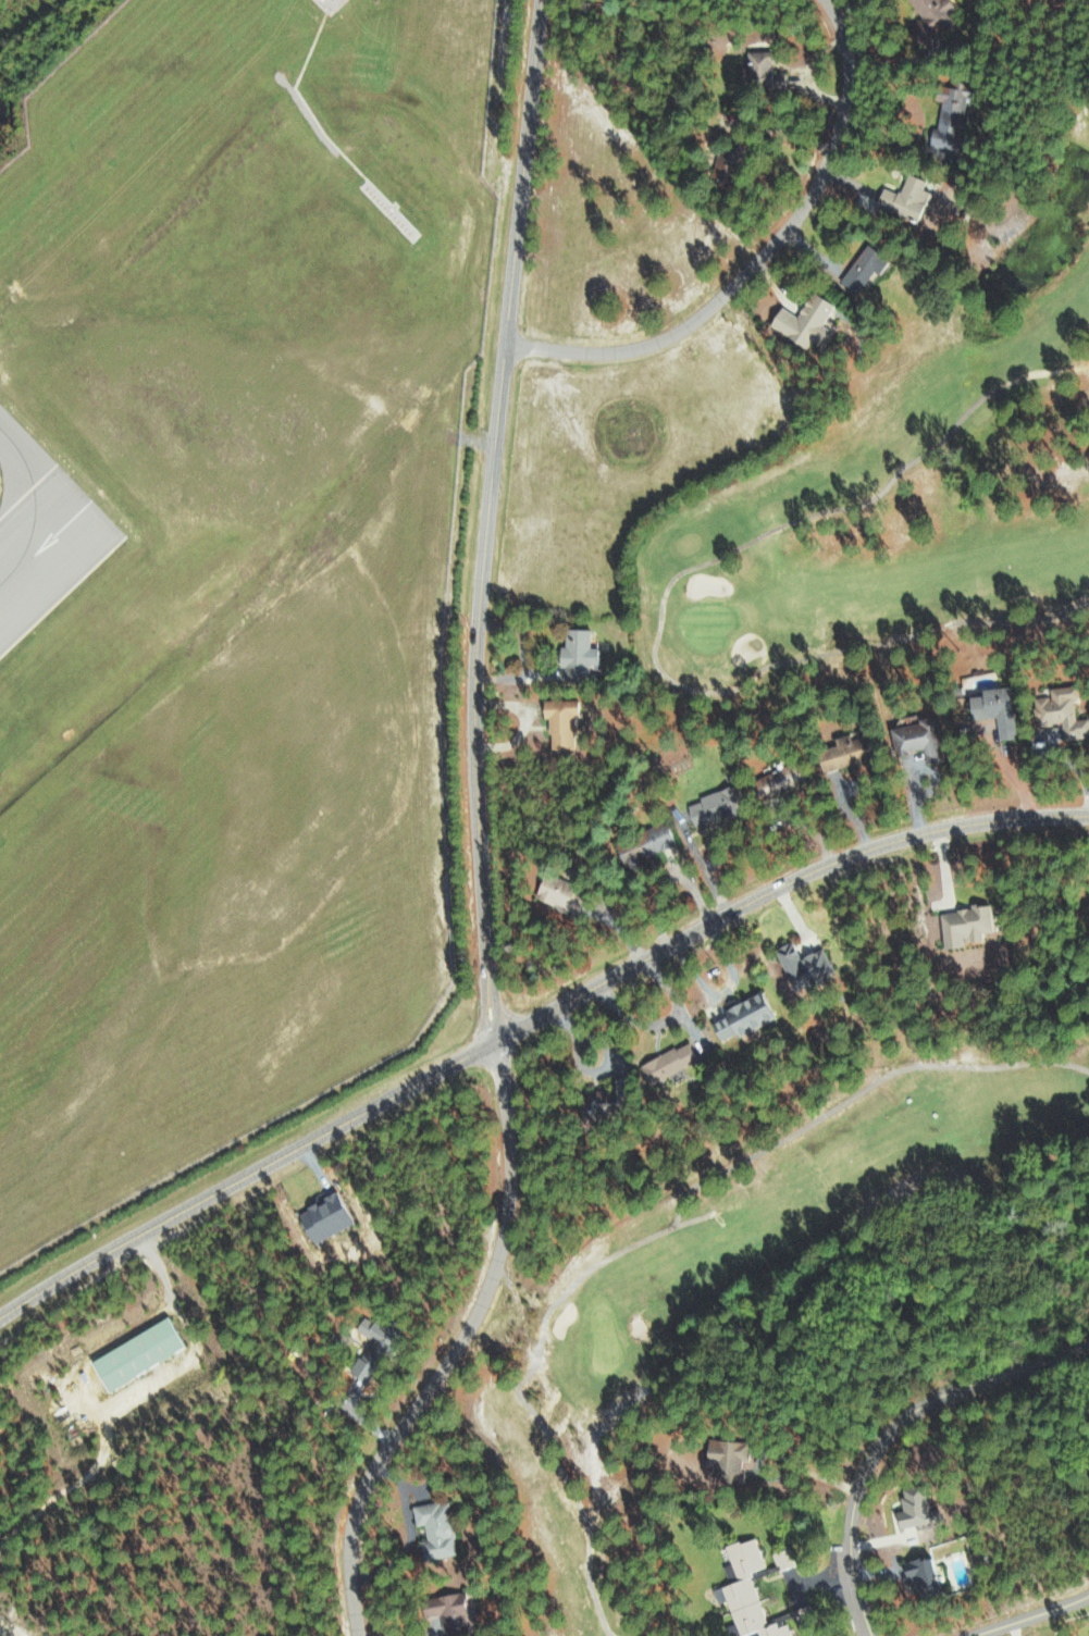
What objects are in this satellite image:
building: (930, 17)
building: (758, 73)
building: (946, 115)
building: (725, 160)
building: (902, 198)
road: (762, 259)
building: (859, 270)
building: (801, 320)
park: (894, 492)
airport taxiway: (33, 504)
road: (486, 521)
airport: (225, 579)
road: (660, 609)
park: (706, 625)
building: (574, 655)
building: (994, 710)
building: (1059, 712)
building: (558, 724)
building: (916, 739)
building: (840, 753)
building: (776, 781)
building: (711, 806)
building: (641, 845)
building: (557, 895)
building: (800, 967)
building: (741, 1016)
road: (529, 1024)
building: (665, 1063)
building: (594, 1106)
building: (322, 1215)
park: (737, 1269)
road: (457, 1350)
building: (133, 1352)
building: (369, 1354)
road: (124, 1397)
road: (889, 1433)
building: (723, 1458)
road: (779, 1458)
building: (909, 1507)
building: (431, 1529)
building: (918, 1576)
building: (745, 1591)
building: (445, 1612)
road: (1038, 1618)

